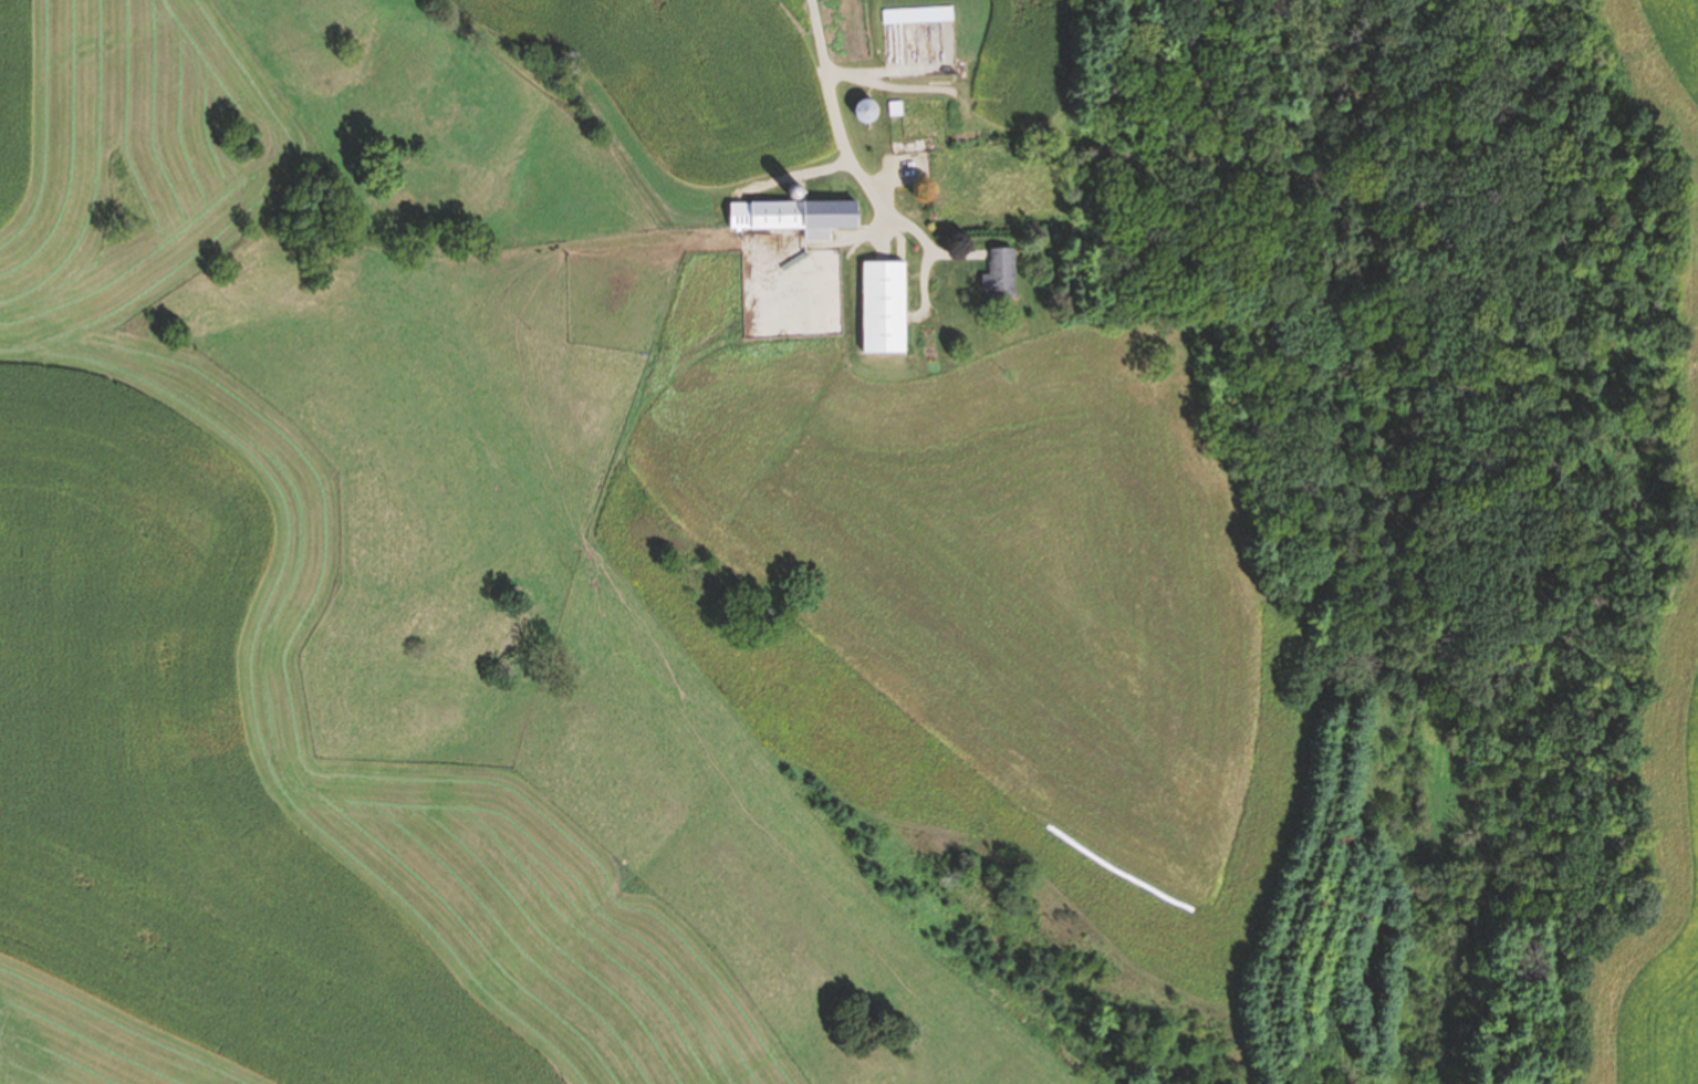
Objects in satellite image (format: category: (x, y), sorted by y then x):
building: (919, 15)
road: (820, 81)
building: (866, 111)
building: (794, 217)
building: (1002, 273)
building: (884, 308)

